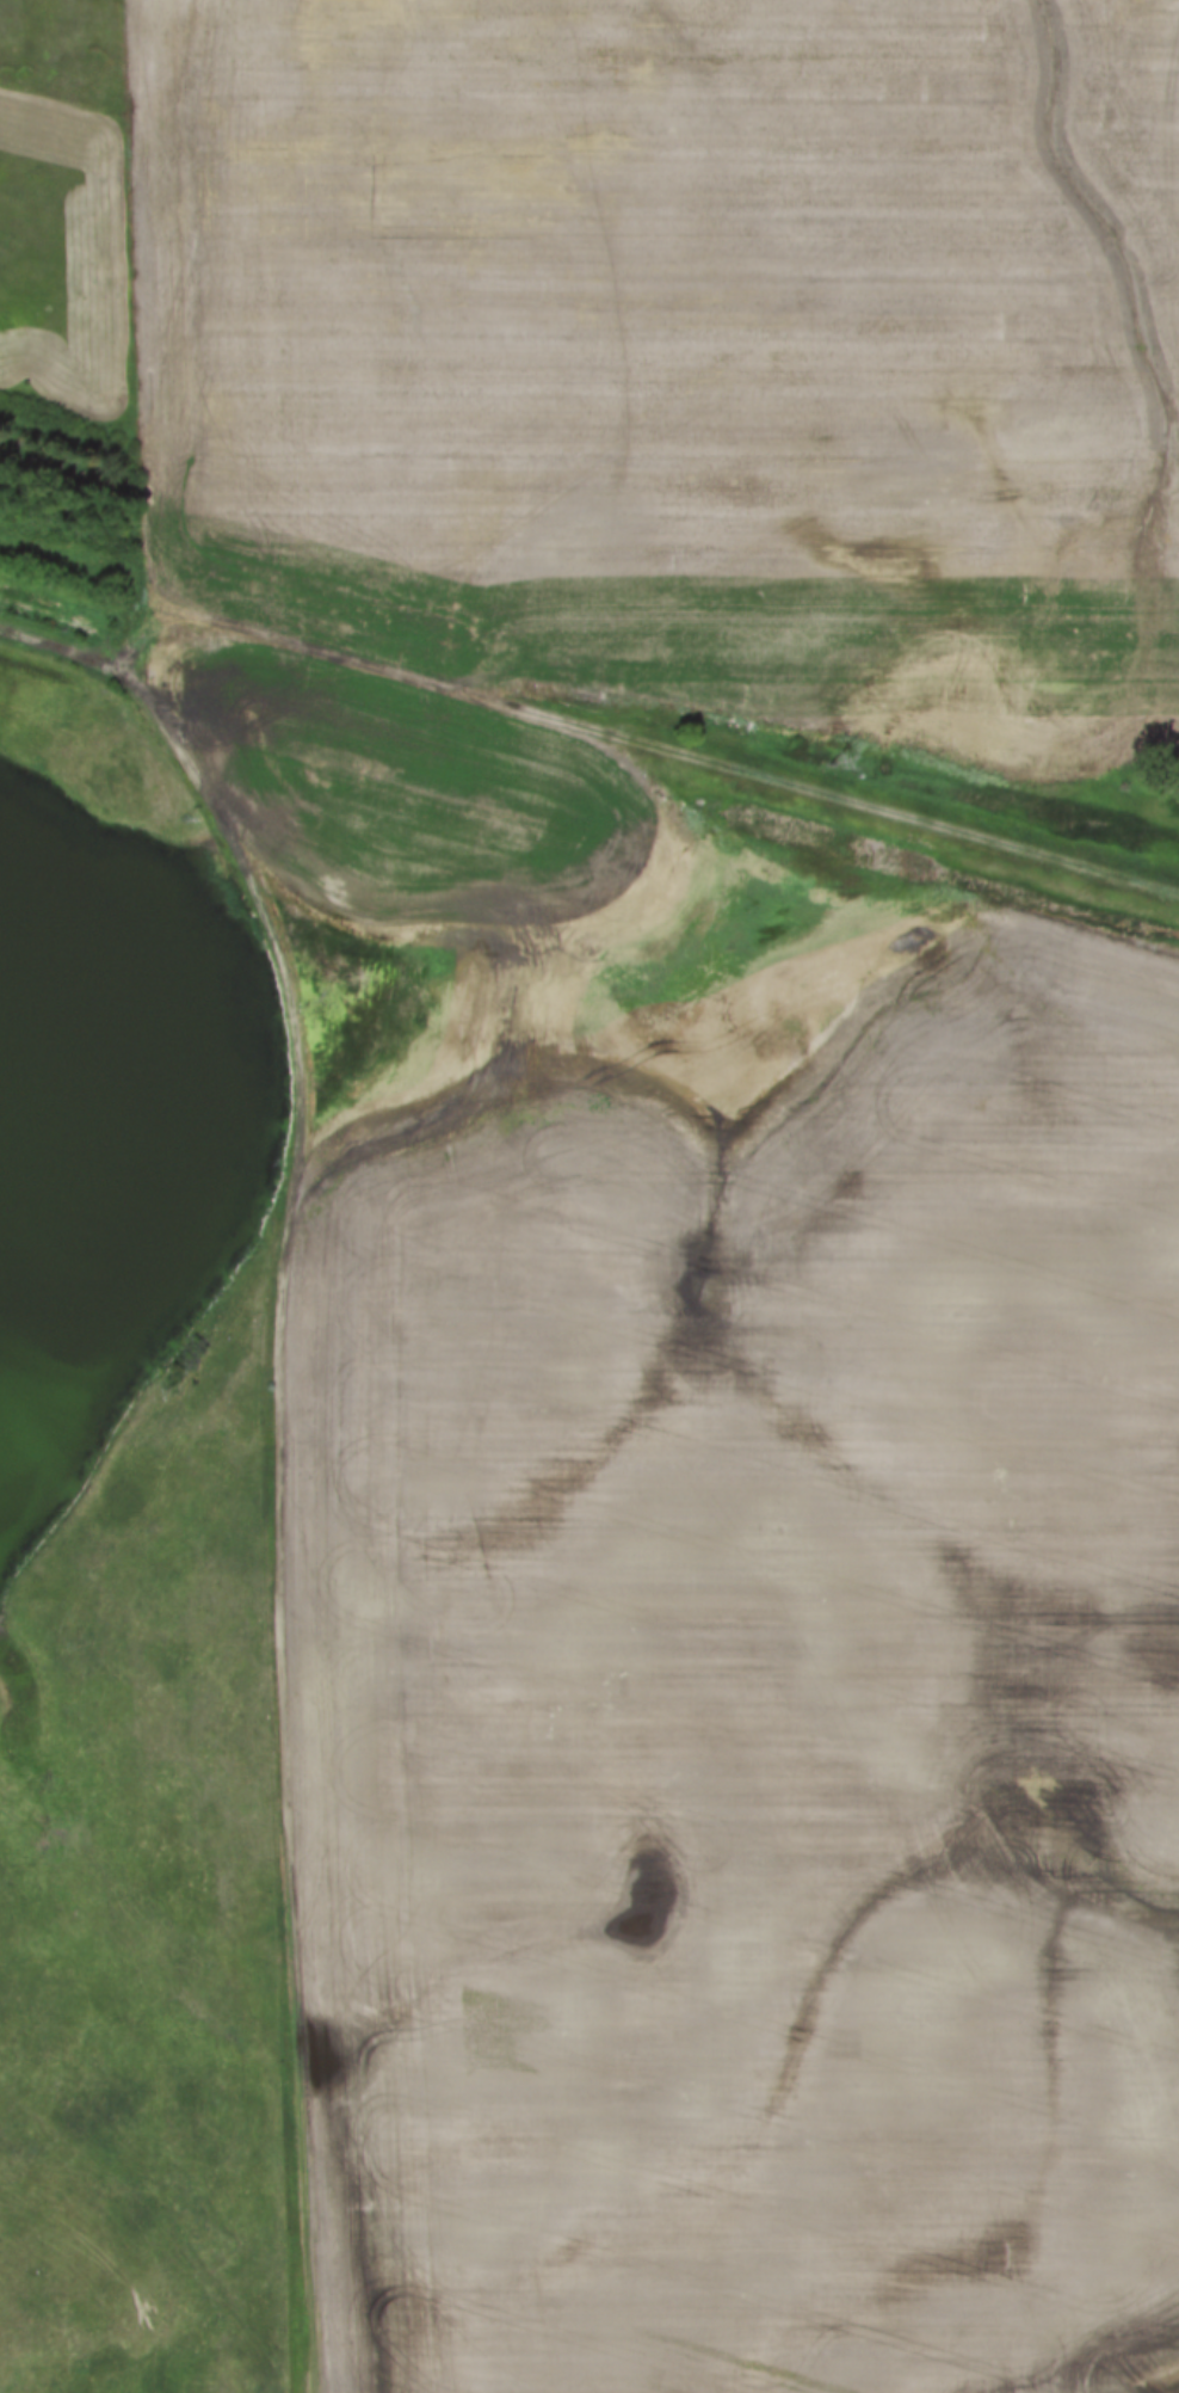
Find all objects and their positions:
road: (277, 1444)

